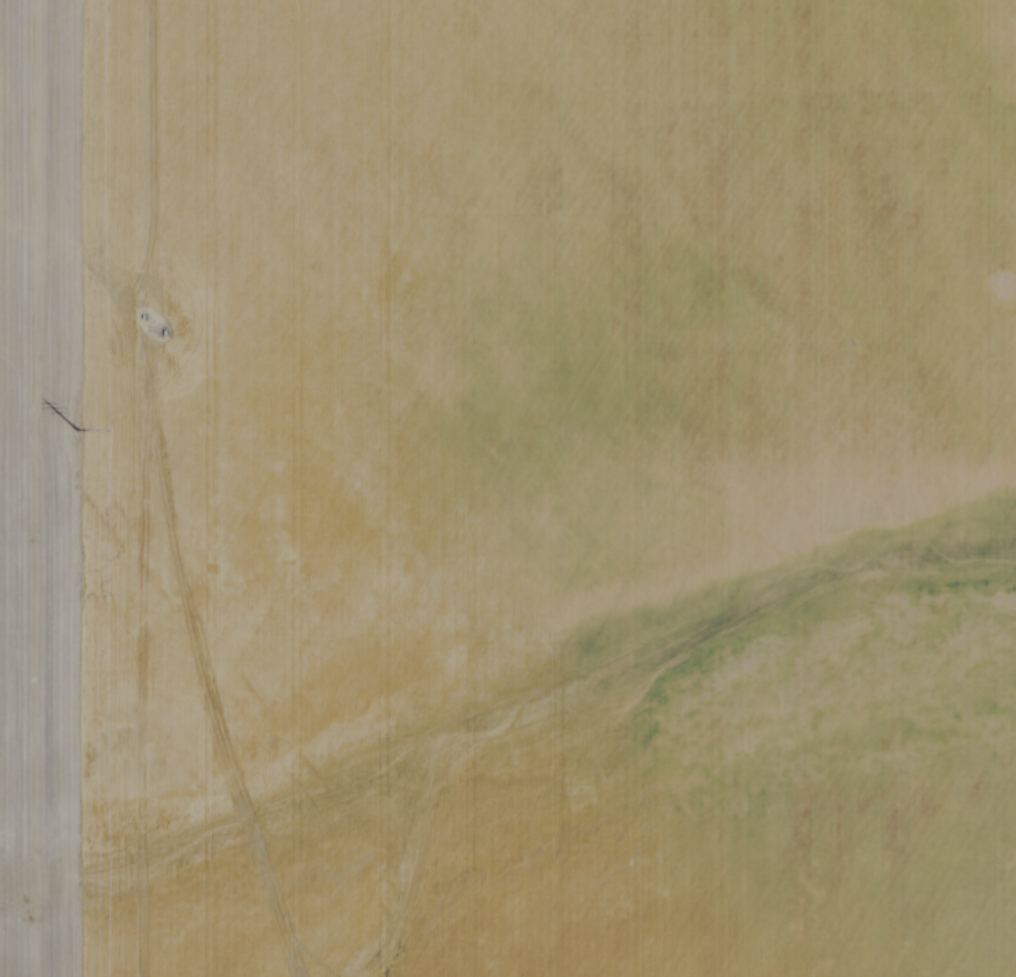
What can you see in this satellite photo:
power tower: (74, 437)

